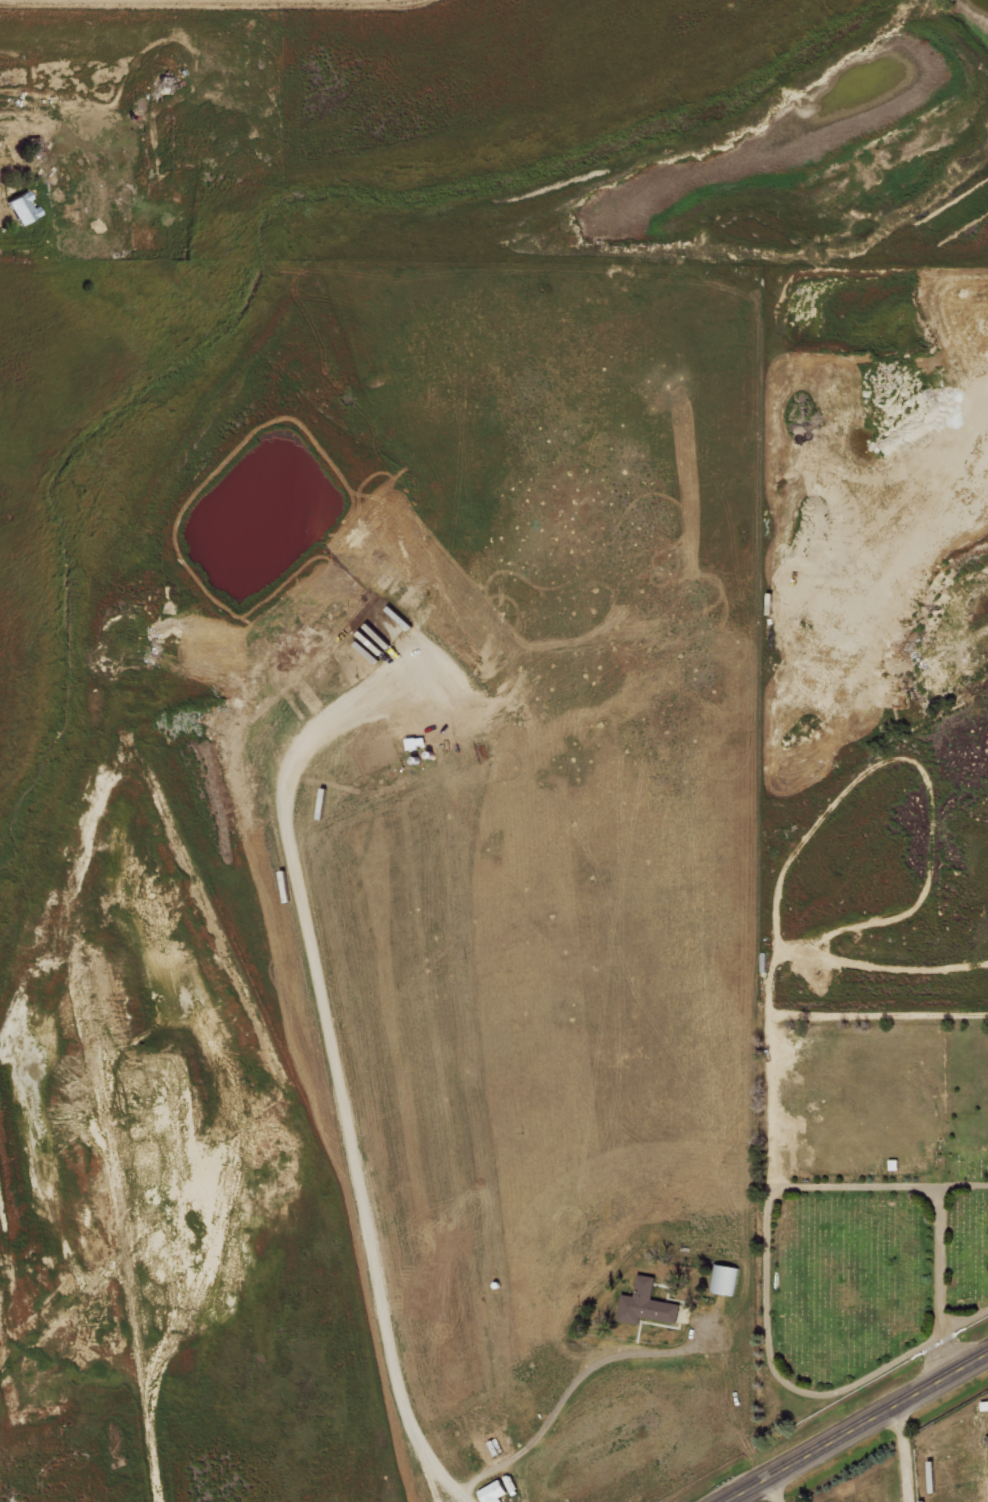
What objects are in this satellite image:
building: (24, 208)
park: (865, 1201)
building: (722, 1278)
building: (645, 1304)
road: (851, 1424)
road: (902, 1451)
road: (770, 1488)
building: (493, 1491)

